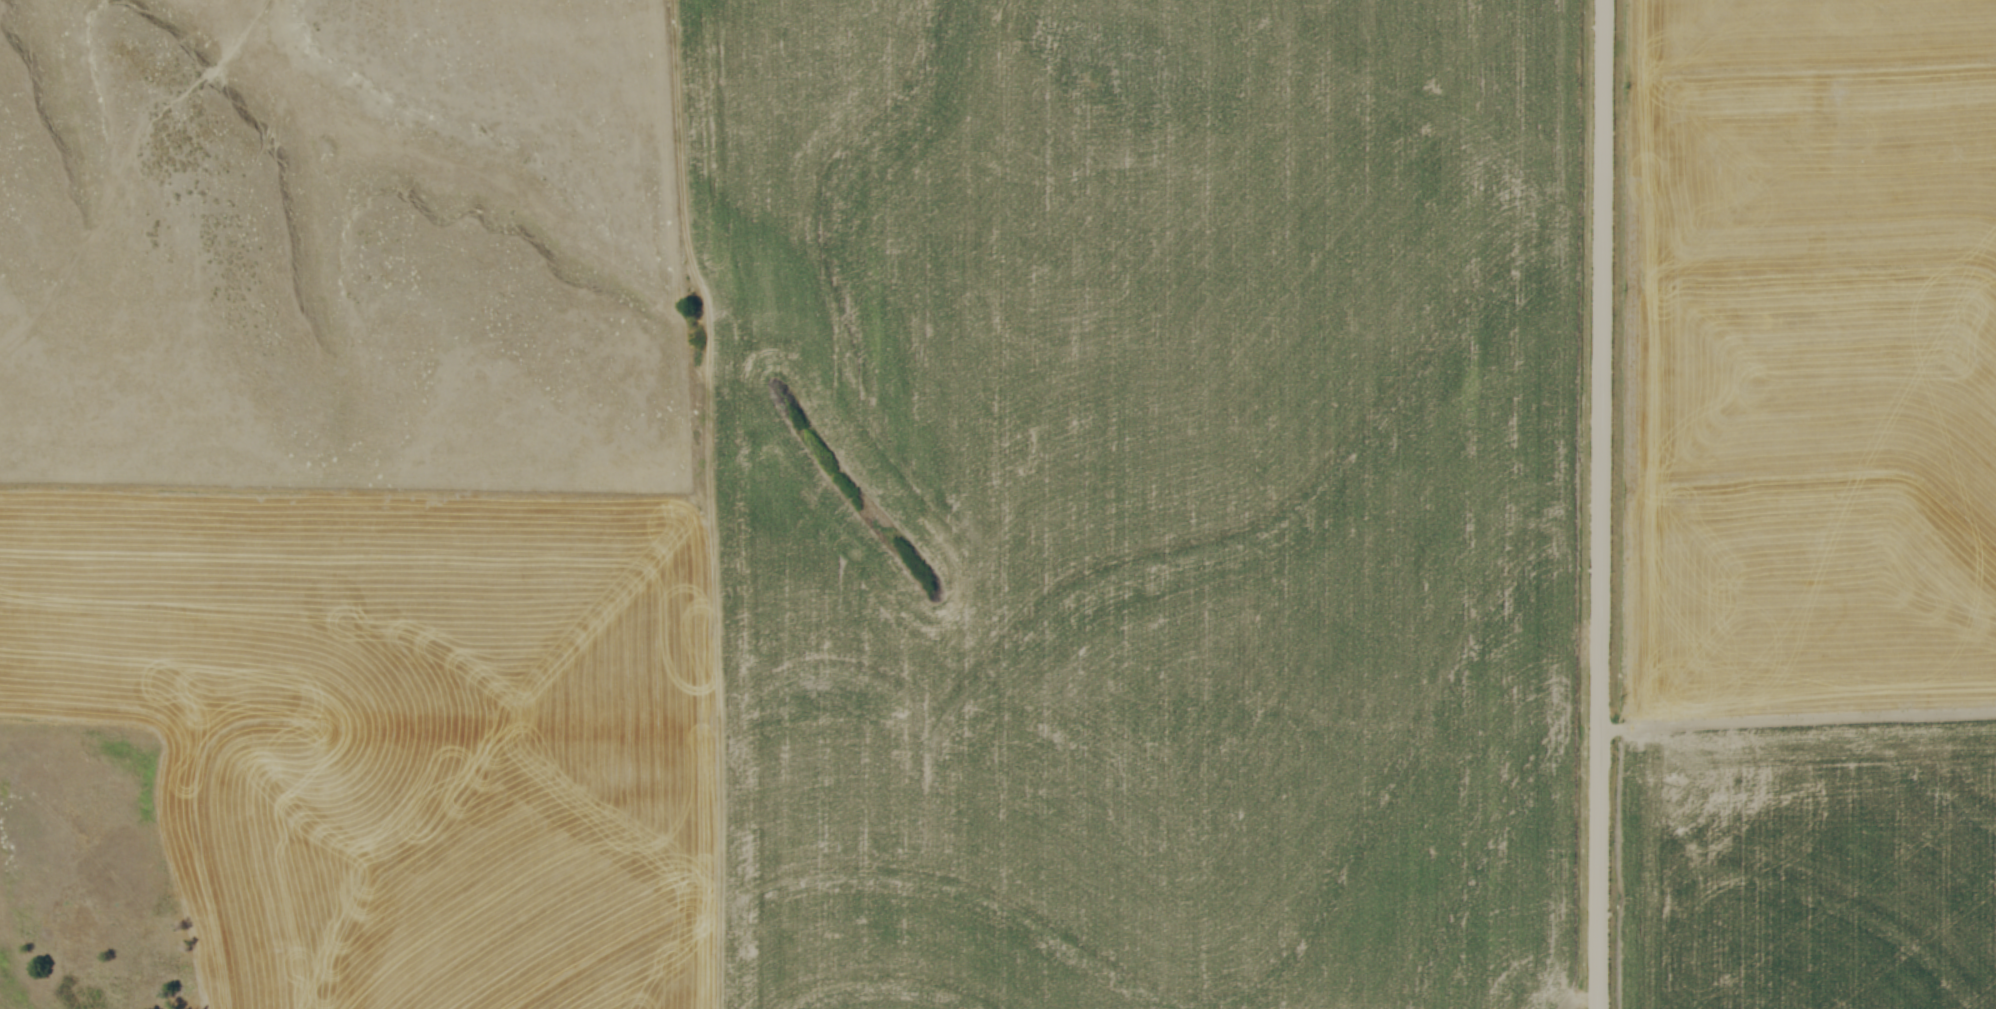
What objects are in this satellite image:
road: (1604, 504)

